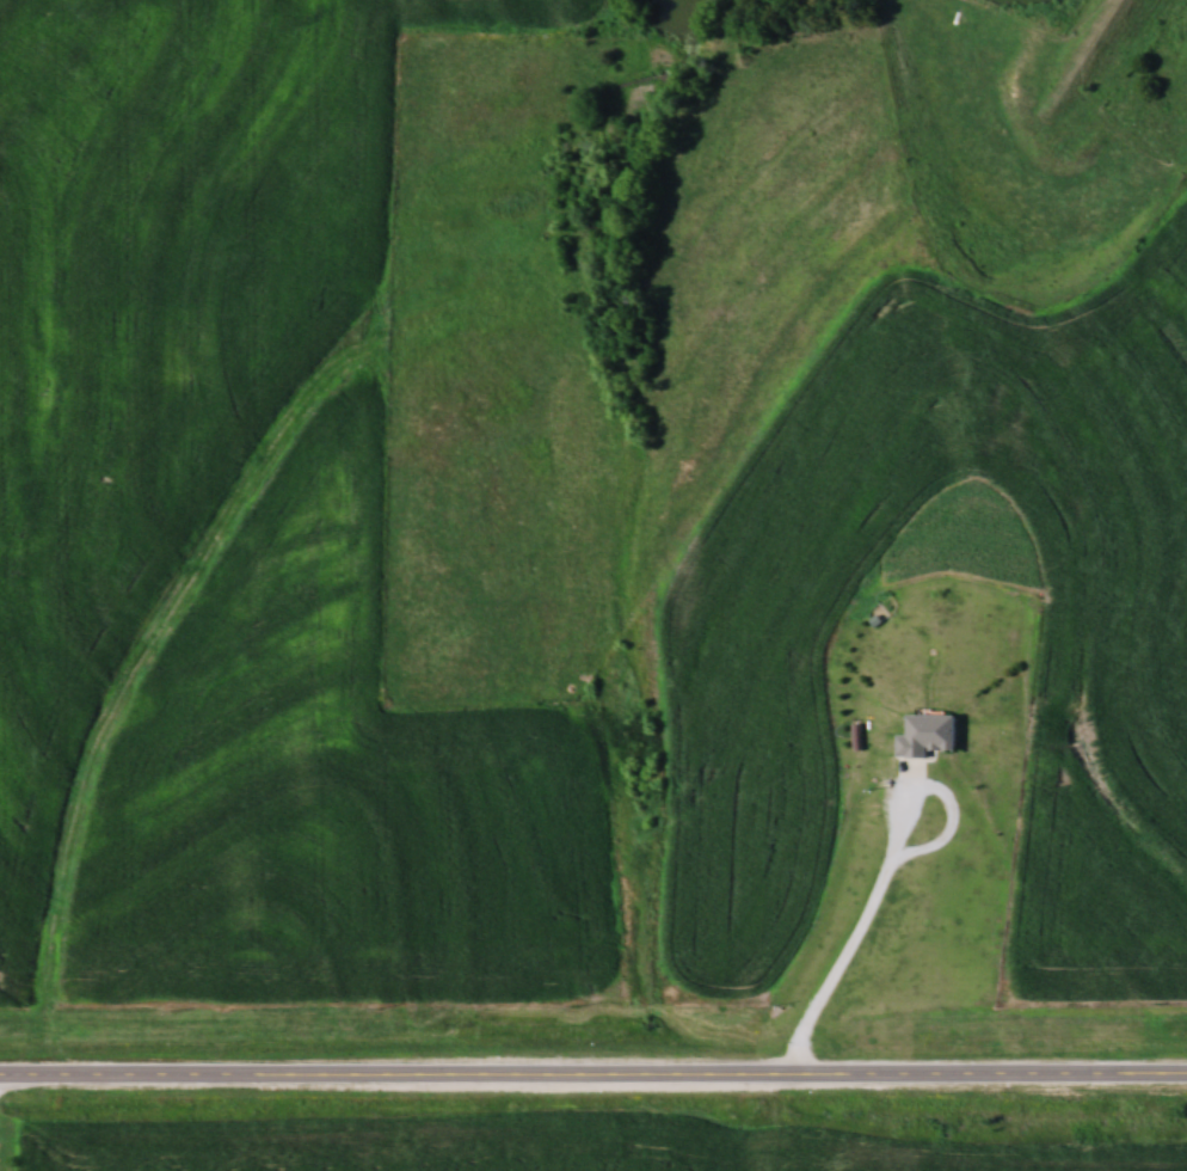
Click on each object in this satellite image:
building: (930, 735)
road: (860, 921)
road: (593, 1071)

